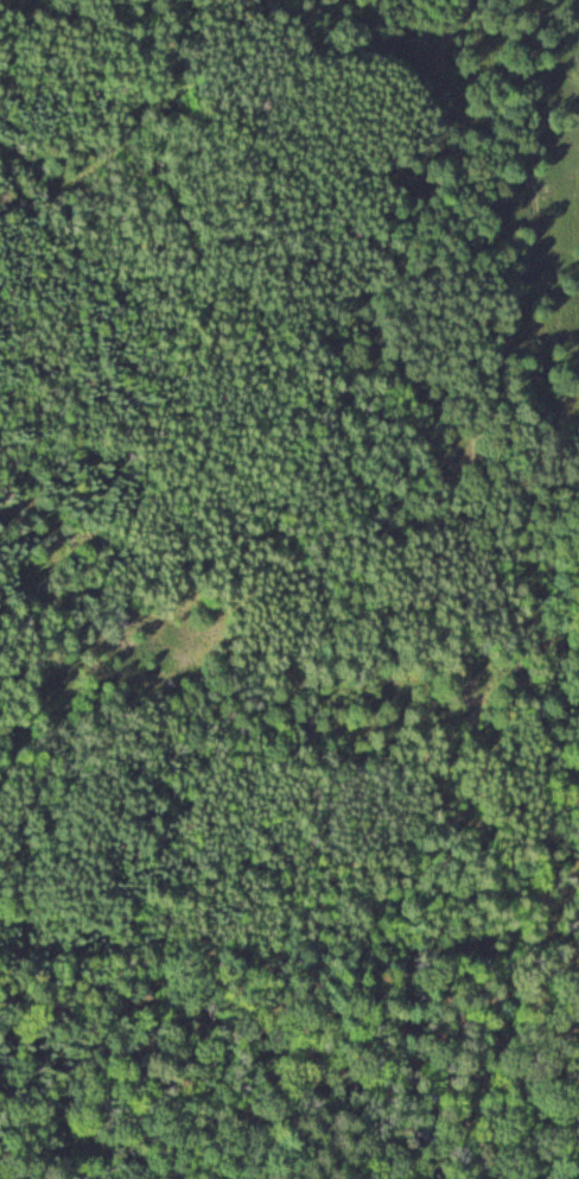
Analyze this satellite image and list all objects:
road: (451, 606)

